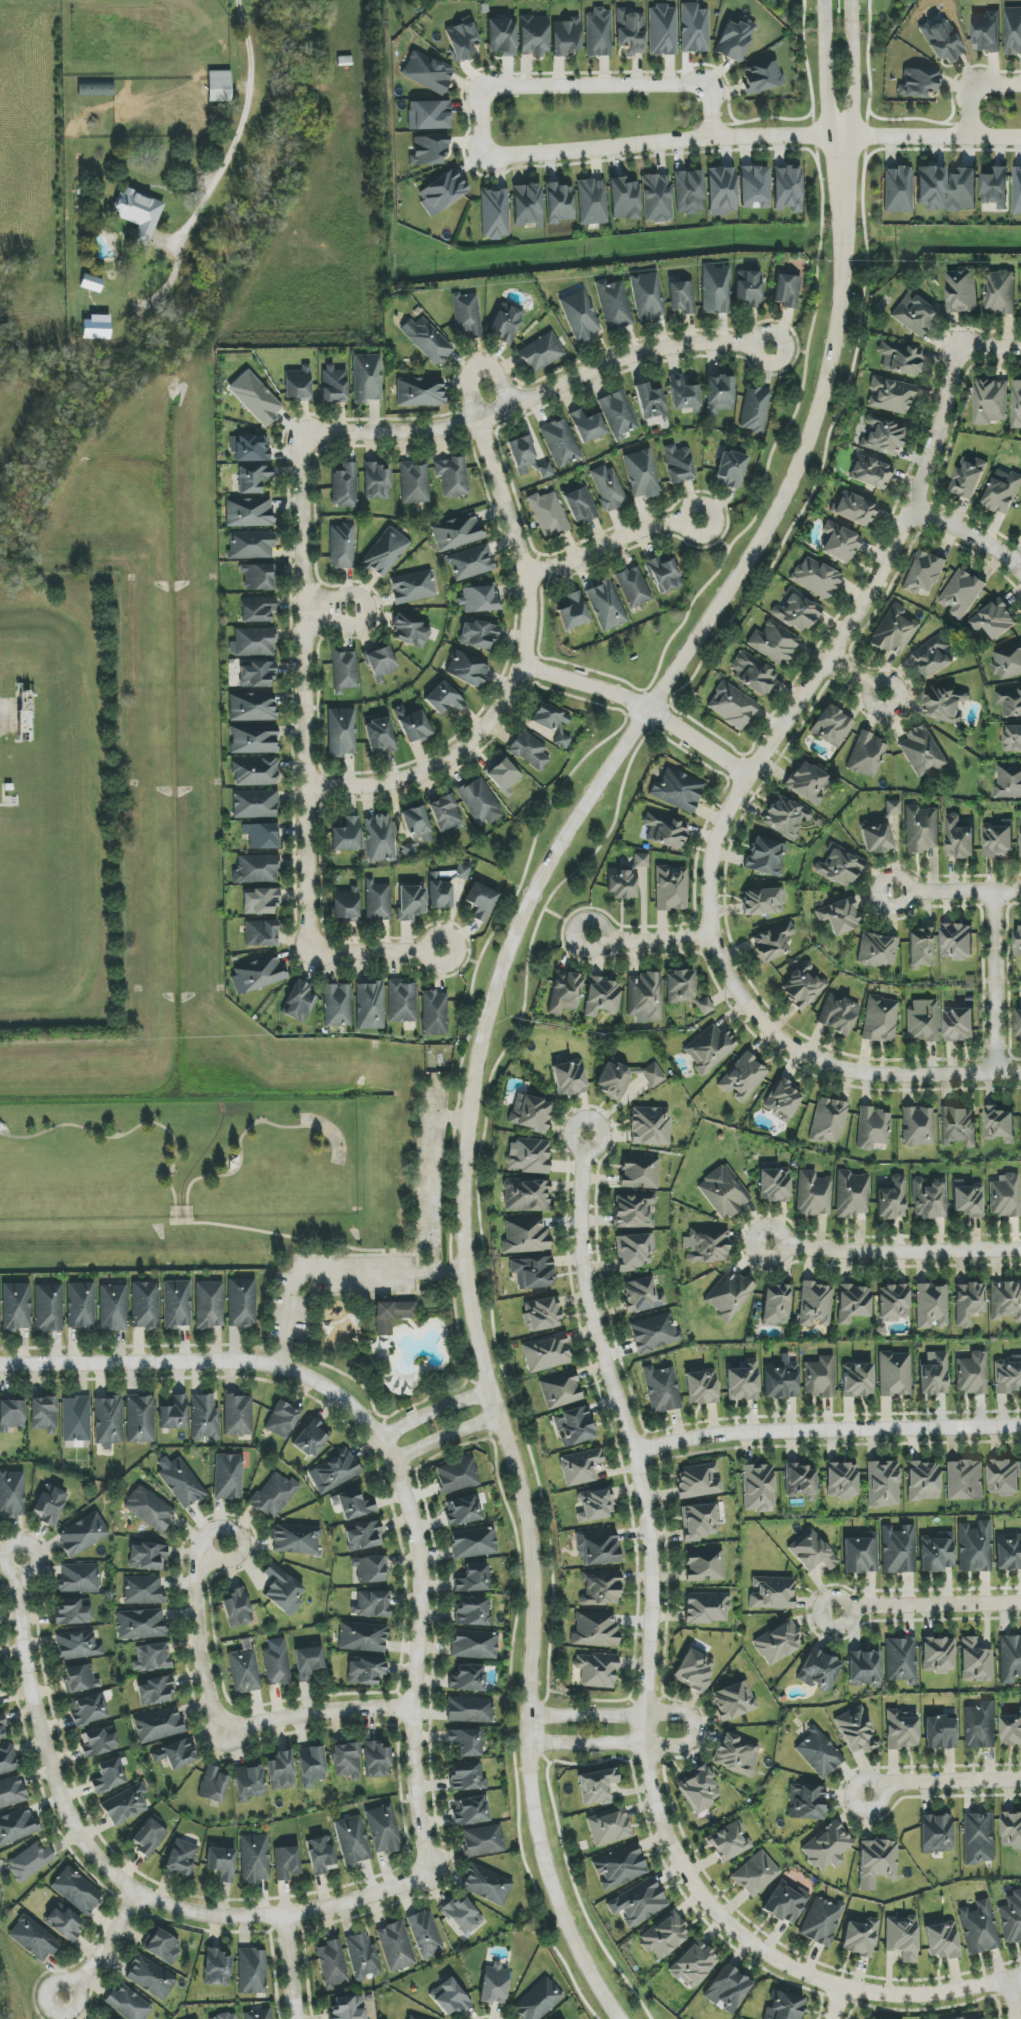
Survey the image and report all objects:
road: (850, 17)
building: (694, 29)
building: (662, 30)
building: (1013, 31)
building: (630, 32)
building: (988, 32)
building: (598, 33)
building: (501, 36)
building: (533, 36)
building: (565, 37)
building: (735, 39)
building: (462, 40)
building: (942, 40)
road: (825, 69)
building: (427, 72)
building: (763, 77)
building: (920, 83)
building: (219, 86)
road: (587, 86)
road: (851, 86)
road: (970, 86)
road: (246, 104)
building: (429, 115)
road: (930, 137)
road: (660, 142)
building: (428, 151)
building: (754, 187)
building: (995, 187)
building: (787, 188)
building: (930, 188)
building: (897, 190)
building: (963, 190)
building: (721, 191)
building: (1017, 191)
building: (441, 192)
building: (689, 192)
building: (657, 198)
building: (624, 199)
building: (592, 202)
building: (559, 203)
building: (527, 205)
building: (138, 213)
building: (494, 214)
building: (91, 283)
building: (750, 289)
building: (786, 289)
building: (715, 290)
building: (962, 291)
building: (1000, 294)
building: (681, 295)
building: (647, 296)
building: (613, 304)
building: (466, 315)
building: (914, 315)
building: (580, 316)
building: (506, 324)
building: (95, 327)
building: (427, 340)
building: (541, 353)
road: (987, 353)
building: (900, 358)
road: (475, 366)
building: (366, 378)
building: (298, 384)
building: (333, 384)
building: (419, 392)
road: (538, 394)
building: (683, 394)
building: (718, 395)
building: (890, 396)
building: (257, 399)
building: (991, 401)
building: (650, 402)
building: (1016, 405)
building: (755, 410)
building: (618, 415)
building: (587, 426)
building: (882, 436)
building: (560, 443)
building: (249, 449)
building: (526, 458)
building: (678, 464)
building: (730, 469)
building: (870, 472)
building: (642, 474)
building: (452, 476)
building: (253, 478)
building: (970, 479)
building: (376, 481)
building: (414, 483)
building: (344, 486)
building: (608, 488)
building: (1004, 492)
building: (580, 505)
building: (856, 510)
building: (249, 512)
building: (548, 514)
building: (457, 533)
road: (970, 534)
road: (613, 541)
building: (839, 542)
building: (251, 545)
building: (341, 546)
building: (387, 553)
road: (1017, 560)
building: (470, 562)
building: (924, 572)
building: (664, 575)
building: (257, 577)
building: (816, 577)
building: (412, 587)
building: (633, 587)
building: (962, 593)
building: (479, 599)
building: (606, 605)
building: (257, 609)
road: (328, 609)
building: (573, 612)
building: (797, 612)
building: (996, 619)
building: (410, 631)
building: (895, 631)
building: (478, 634)
building: (253, 642)
building: (774, 643)
building: (932, 658)
building: (1007, 661)
building: (381, 664)
building: (466, 669)
building: (344, 671)
road: (850, 672)
road: (518, 673)
building: (752, 673)
building: (257, 674)
road: (305, 694)
road: (868, 697)
building: (443, 698)
building: (1009, 700)
building: (731, 705)
building: (945, 705)
road: (642, 706)
building: (252, 707)
building: (552, 723)
building: (411, 724)
building: (832, 727)
building: (341, 732)
building: (379, 736)
building: (1012, 738)
building: (253, 739)
building: (922, 750)
building: (529, 751)
building: (866, 755)
building: (255, 772)
building: (504, 777)
building: (1008, 781)
building: (806, 782)
building: (677, 790)
wastewater plant: (61, 800)
building: (479, 802)
building: (255, 804)
road: (732, 804)
building: (893, 807)
building: (445, 813)
building: (785, 817)
building: (1020, 823)
building: (416, 825)
building: (921, 829)
building: (664, 830)
building: (261, 836)
building: (346, 836)
building: (379, 838)
building: (876, 838)
building: (959, 839)
building: (998, 841)
building: (409, 851)
building: (766, 857)
building: (839, 866)
building: (256, 869)
building: (626, 879)
building: (444, 887)
building: (671, 888)
road: (956, 891)
building: (260, 901)
building: (377, 901)
building: (481, 901)
building: (763, 901)
building: (411, 902)
building: (345, 905)
building: (839, 916)
building: (261, 933)
road: (653, 941)
building: (1017, 941)
building: (772, 942)
building: (957, 942)
building: (922, 947)
road: (377, 951)
building: (877, 951)
road: (458, 957)
building: (257, 974)
road: (994, 982)
building: (680, 986)
building: (803, 986)
road: (471, 989)
building: (564, 993)
building: (644, 996)
building: (602, 997)
building: (299, 1002)
building: (401, 1002)
building: (337, 1005)
building: (369, 1006)
building: (705, 1006)
building: (434, 1014)
building: (837, 1014)
building: (880, 1019)
building: (922, 1020)
building: (959, 1024)
building: (1019, 1024)
road: (479, 1048)
building: (708, 1048)
road: (432, 1073)
building: (653, 1075)
building: (569, 1078)
building: (742, 1078)
building: (612, 1079)
building: (782, 1100)
building: (530, 1113)
road: (454, 1119)
building: (828, 1121)
building: (999, 1123)
building: (650, 1126)
building: (959, 1126)
building: (918, 1127)
building: (872, 1128)
road: (131, 1130)
road: (241, 1137)
building: (528, 1156)
parking lot: (430, 1169)
building: (639, 1172)
road: (434, 1181)
building: (774, 1185)
building: (724, 1192)
building: (813, 1194)
building: (852, 1194)
building: (526, 1195)
building: (1005, 1196)
building: (967, 1197)
building: (891, 1198)
building: (929, 1198)
building: (634, 1211)
road: (281, 1234)
building: (525, 1235)
building: (707, 1245)
road: (892, 1249)
building: (634, 1252)
road: (362, 1255)
building: (533, 1273)
road: (336, 1275)
road: (415, 1276)
parking lot: (332, 1286)
building: (641, 1295)
building: (728, 1295)
building: (1006, 1301)
building: (241, 1303)
building: (776, 1303)
building: (893, 1303)
building: (177, 1304)
building: (815, 1304)
building: (853, 1304)
building: (969, 1304)
building: (145, 1305)
building: (209, 1305)
building: (16, 1306)
building: (80, 1306)
building: (931, 1306)
building: (113, 1307)
building: (48, 1308)
building: (543, 1314)
building: (391, 1315)
road: (342, 1320)
building: (339, 1322)
building: (654, 1332)
building: (546, 1353)
building: (894, 1374)
building: (933, 1374)
building: (973, 1374)
building: (1007, 1375)
building: (819, 1377)
building: (857, 1380)
building: (743, 1381)
building: (781, 1381)
building: (701, 1386)
building: (662, 1389)
building: (560, 1390)
road: (481, 1398)
road: (411, 1405)
road: (434, 1411)
building: (44, 1414)
building: (174, 1414)
building: (11, 1415)
building: (238, 1415)
building: (76, 1419)
building: (141, 1419)
building: (205, 1419)
building: (282, 1419)
building: (108, 1421)
building: (574, 1426)
road: (382, 1427)
road: (827, 1430)
road: (445, 1437)
building: (312, 1438)
road: (388, 1454)
building: (580, 1467)
building: (335, 1471)
building: (457, 1476)
building: (228, 1477)
building: (1005, 1477)
building: (965, 1480)
building: (180, 1481)
building: (698, 1481)
building: (841, 1481)
building: (923, 1481)
building: (801, 1482)
building: (883, 1484)
building: (758, 1487)
building: (12, 1494)
building: (274, 1495)
building: (353, 1504)
building: (594, 1504)
building: (50, 1506)
building: (150, 1509)
building: (464, 1511)
building: (700, 1521)
building: (83, 1535)
road: (240, 1535)
building: (363, 1536)
building: (295, 1539)
building: (473, 1543)
building: (975, 1547)
building: (597, 1548)
building: (898, 1550)
building: (812, 1552)
building: (937, 1553)
building: (1008, 1553)
building: (861, 1554)
building: (147, 1557)
building: (705, 1565)
building: (370, 1569)
building: (79, 1578)
building: (472, 1579)
building: (601, 1589)
building: (143, 1590)
building: (283, 1590)
building: (772, 1593)
building: (370, 1604)
road: (927, 1605)
building: (707, 1608)
building: (237, 1609)
building: (73, 1612)
building: (472, 1612)
building: (140, 1624)
building: (595, 1629)
building: (362, 1637)
building: (778, 1643)
building: (77, 1645)
building: (474, 1645)
building: (938, 1655)
building: (151, 1657)
building: (901, 1660)
building: (976, 1660)
building: (1010, 1660)
building: (276, 1662)
building: (308, 1662)
building: (864, 1668)
building: (596, 1670)
building: (695, 1670)
building: (819, 1670)
building: (244, 1671)
building: (365, 1671)
building: (81, 1678)
building: (467, 1678)
building: (155, 1690)
road: (647, 1690)
building: (734, 1701)
building: (88, 1710)
building: (469, 1710)
building: (158, 1724)
building: (982, 1726)
building: (3, 1728)
road: (230, 1728)
road: (693, 1729)
building: (1011, 1730)
building: (856, 1731)
building: (901, 1731)
building: (940, 1733)
building: (465, 1742)
building: (97, 1743)
building: (176, 1754)
building: (735, 1754)
building: (819, 1754)
building: (376, 1759)
building: (8, 1760)
building: (347, 1761)
building: (311, 1766)
building: (281, 1771)
building: (108, 1776)
building: (466, 1777)
road: (942, 1782)
building: (249, 1783)
building: (213, 1784)
building: (596, 1787)
building: (700, 1790)
building: (12, 1791)
building: (807, 1803)
building: (125, 1805)
building: (471, 1811)
building: (17, 1826)
building: (609, 1827)
building: (383, 1829)
building: (1011, 1830)
building: (936, 1833)
building: (149, 1838)
building: (980, 1838)
building: (352, 1841)
building: (483, 1841)
building: (729, 1842)
building: (827, 1846)
building: (321, 1855)
building: (181, 1857)
building: (254, 1858)
building: (30, 1861)
building: (877, 1862)
building: (222, 1863)
building: (286, 1863)
building: (619, 1866)
road: (119, 1867)
building: (756, 1874)
building: (486, 1885)
building: (77, 1891)
building: (638, 1903)
building: (786, 1903)
building: (462, 1916)
building: (1011, 1918)
building: (821, 1921)
building: (64, 1923)
building: (980, 1928)
building: (425, 1934)
building: (664, 1936)
building: (860, 1937)
building: (902, 1937)
building: (33, 1939)
building: (942, 1940)
road: (100, 1943)
building: (396, 1946)
building: (163, 1947)
building: (362, 1956)
building: (332, 1964)
building: (694, 1965)
road: (288, 1967)
building: (217, 1968)
building: (252, 1971)
building: (151, 1978)
building: (494, 1984)
building: (728, 1990)
building: (451, 1998)
road: (1012, 1999)
building: (540, 2003)
road: (838, 2003)
building: (129, 2004)
building: (785, 2006)
building: (347, 2008)
building: (259, 2014)
building: (225, 2016)
building: (961, 2016)
building: (413, 2017)
building: (197, 2018)

